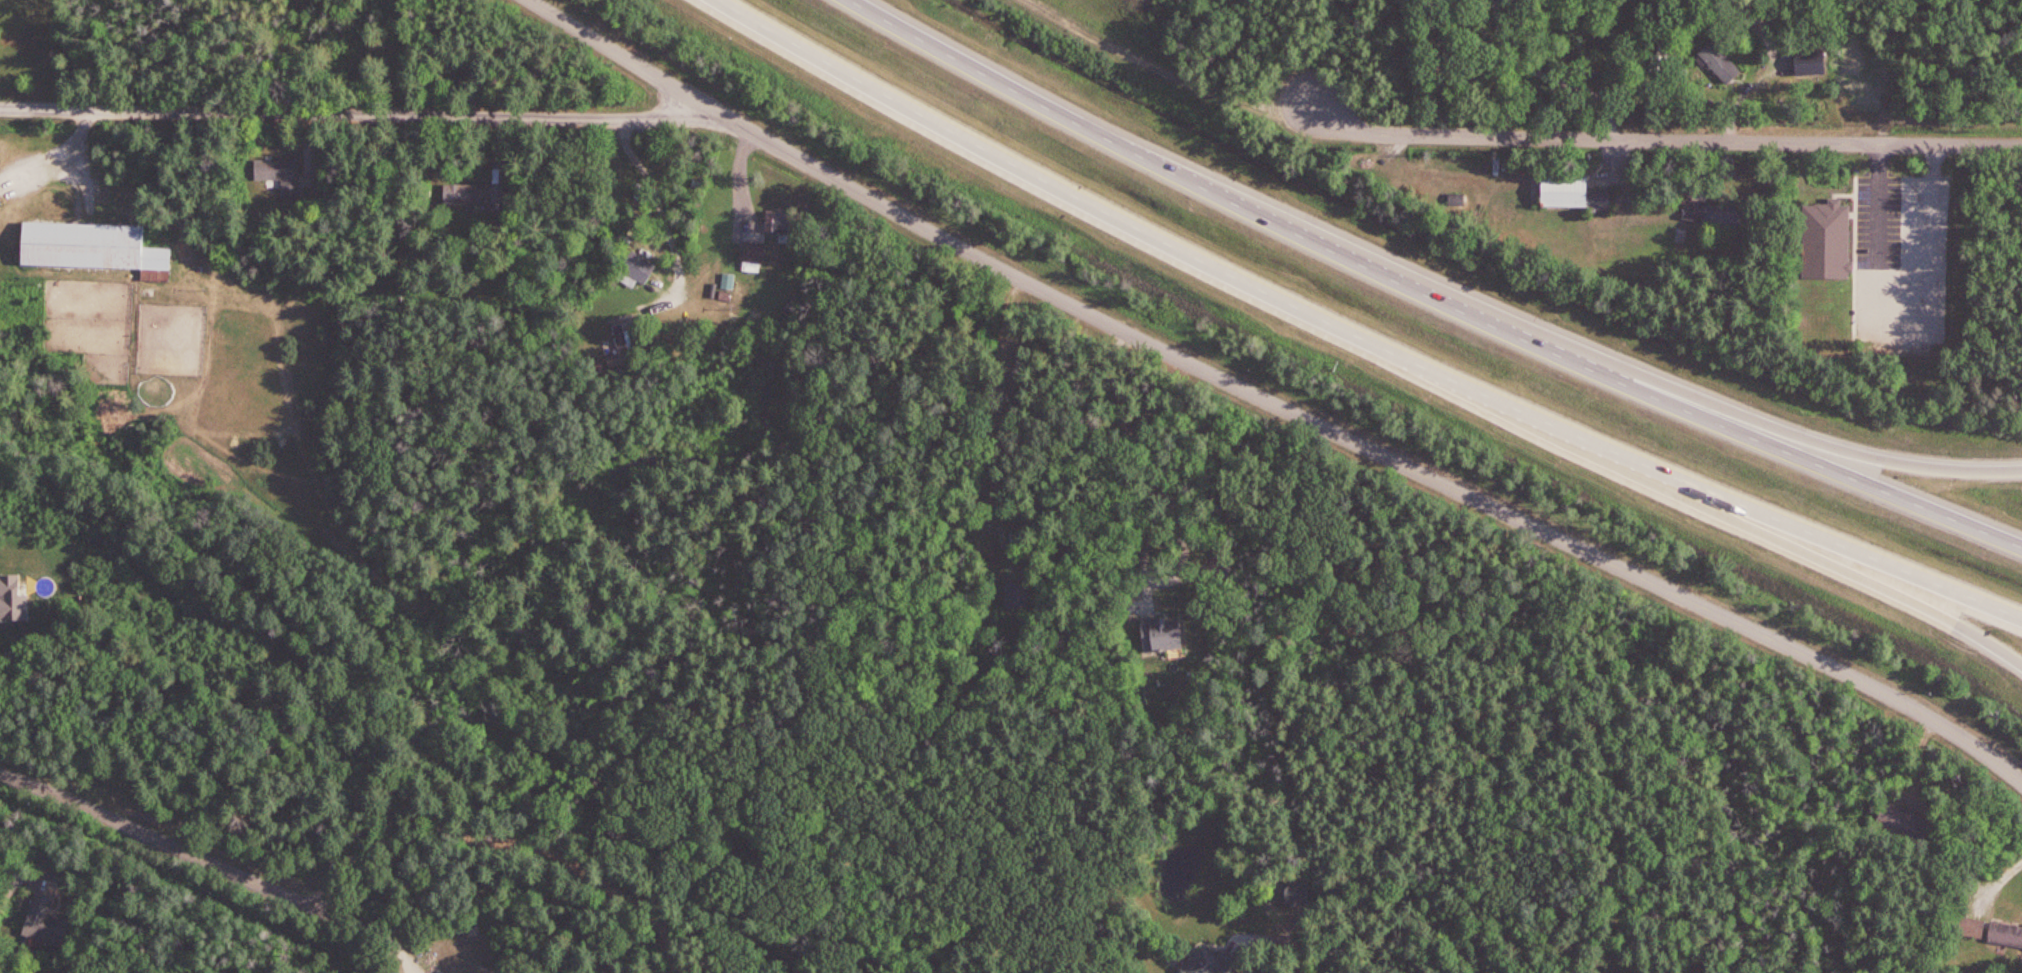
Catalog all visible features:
road: (1031, 1)
building: (1812, 61)
building: (1719, 63)
road: (1166, 71)
road: (1547, 77)
road: (351, 116)
road: (1662, 139)
building: (280, 175)
building: (479, 193)
building: (1573, 194)
building: (1, 200)
building: (1456, 200)
building: (1713, 214)
road: (664, 218)
building: (777, 223)
building: (1826, 241)
building: (92, 247)
building: (753, 252)
building: (638, 264)
road: (1426, 296)
road: (1357, 338)
building: (624, 344)
road: (1274, 399)
road: (1001, 408)
road: (1858, 453)
road: (1171, 503)
road: (1883, 586)
building: (1017, 595)
building: (1163, 633)
building: (1901, 822)
road: (1998, 875)
building: (1299, 886)
building: (43, 922)
building: (1987, 928)
building: (1217, 957)
building: (492, 965)

